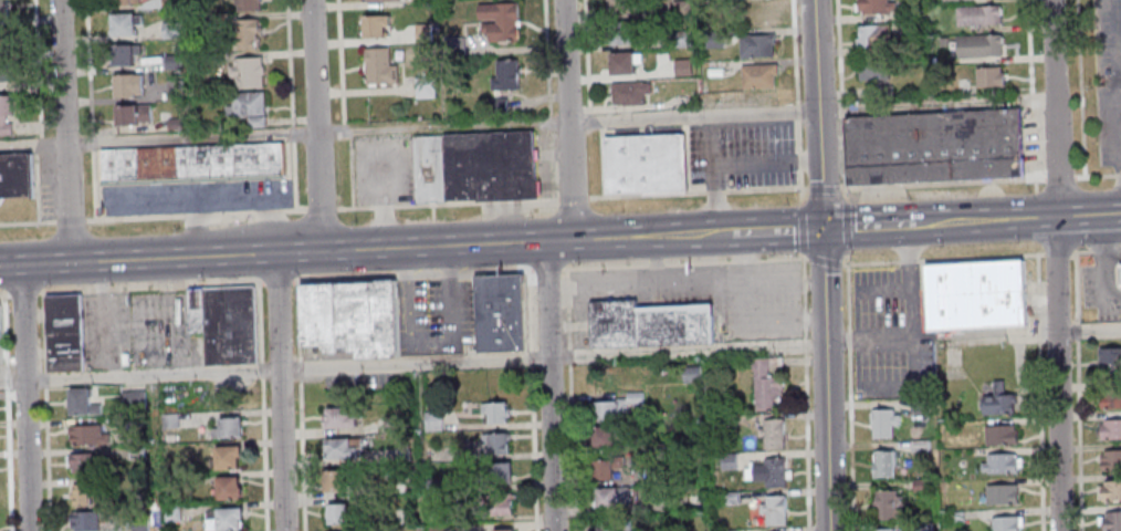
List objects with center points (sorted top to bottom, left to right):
building: (380, 0)
building: (950, 0)
building: (130, 1)
building: (247, 4)
building: (619, 7)
building: (876, 7)
building: (4, 8)
building: (910, 13)
building: (758, 14)
building: (977, 15)
building: (500, 21)
building: (126, 24)
building: (377, 27)
building: (624, 32)
building: (250, 33)
building: (874, 38)
building: (943, 41)
building: (1, 42)
building: (757, 45)
building: (978, 46)
building: (126, 55)
road: (546, 55)
road: (585, 56)
building: (624, 62)
building: (380, 66)
road: (36, 67)
building: (247, 72)
building: (6, 73)
building: (759, 76)
building: (874, 76)
building: (988, 77)
building: (504, 82)
building: (129, 85)
building: (425, 87)
building: (630, 93)
road: (796, 101)
building: (248, 106)
road: (90, 110)
road: (820, 114)
building: (7, 115)
building: (134, 115)
road: (684, 115)
road: (566, 119)
road: (588, 119)
road: (548, 121)
road: (315, 125)
road: (1118, 127)
road: (588, 128)
road: (63, 132)
road: (190, 138)
road: (32, 145)
road: (36, 145)
building: (935, 145)
building: (191, 164)
building: (490, 164)
building: (643, 165)
building: (427, 166)
road: (551, 167)
building: (15, 175)
road: (1057, 176)
road: (1100, 177)
road: (937, 184)
road: (36, 188)
road: (824, 189)
road: (698, 191)
road: (573, 198)
road: (447, 206)
road: (319, 209)
road: (193, 214)
road: (432, 214)
road: (1088, 217)
road: (69, 219)
road: (28, 222)
road: (985, 222)
road: (869, 227)
traffic signals: (825, 229)
road: (778, 231)
road: (434, 233)
road: (652, 237)
road: (285, 252)
road: (825, 260)
road: (684, 262)
road: (871, 262)
road: (847, 264)
road: (1055, 264)
building: (1120, 264)
road: (1102, 267)
road: (547, 268)
building: (1120, 273)
road: (412, 275)
road: (277, 282)
road: (150, 287)
road: (22, 292)
road: (2, 293)
building: (975, 299)
building: (501, 312)
building: (352, 317)
building: (224, 322)
building: (612, 325)
building: (673, 327)
road: (1088, 327)
building: (1, 332)
building: (64, 332)
road: (412, 362)
building: (1110, 364)
road: (805, 366)
building: (690, 374)
road: (826, 379)
building: (765, 385)
road: (548, 386)
road: (277, 392)
road: (24, 397)
building: (1110, 399)
building: (132, 402)
building: (998, 402)
building: (80, 405)
building: (919, 406)
building: (615, 407)
road: (6, 412)
road: (44, 412)
building: (493, 414)
building: (168, 421)
building: (337, 421)
building: (432, 421)
building: (725, 421)
building: (883, 424)
building: (390, 425)
building: (227, 430)
building: (1110, 430)
building: (772, 436)
building: (999, 436)
building: (86, 437)
building: (603, 439)
building: (494, 445)
building: (920, 445)
building: (338, 450)
building: (135, 454)
building: (399, 456)
building: (224, 460)
building: (1110, 461)
building: (727, 462)
building: (85, 465)
building: (998, 465)
building: (882, 466)
building: (606, 470)
building: (769, 473)
building: (499, 475)
building: (659, 476)
building: (334, 483)
building: (920, 486)
building: (433, 487)
building: (400, 490)
building: (1111, 491)
building: (226, 492)
building: (1000, 496)
building: (80, 497)
building: (729, 499)
building: (610, 500)
building: (497, 506)
building: (887, 507)
building: (773, 511)
building: (170, 513)
building: (436, 514)
building: (339, 517)
building: (954, 517)
building: (222, 521)
building: (1111, 521)
building: (83, 522)
building: (137, 523)
building: (1006, 523)
building: (922, 525)
building: (606, 527)
building: (437, 529)
building: (504, 530)
building: (730, 530)
building: (886, 530)

